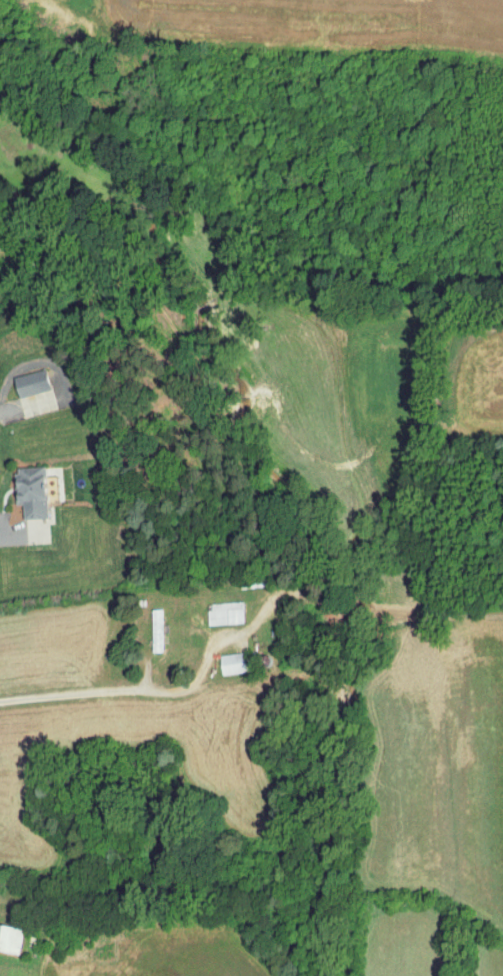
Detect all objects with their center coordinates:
building: (33, 382)
road: (11, 408)
building: (34, 492)
road: (16, 535)
building: (226, 612)
building: (156, 630)
building: (238, 662)
road: (155, 690)
building: (11, 938)

